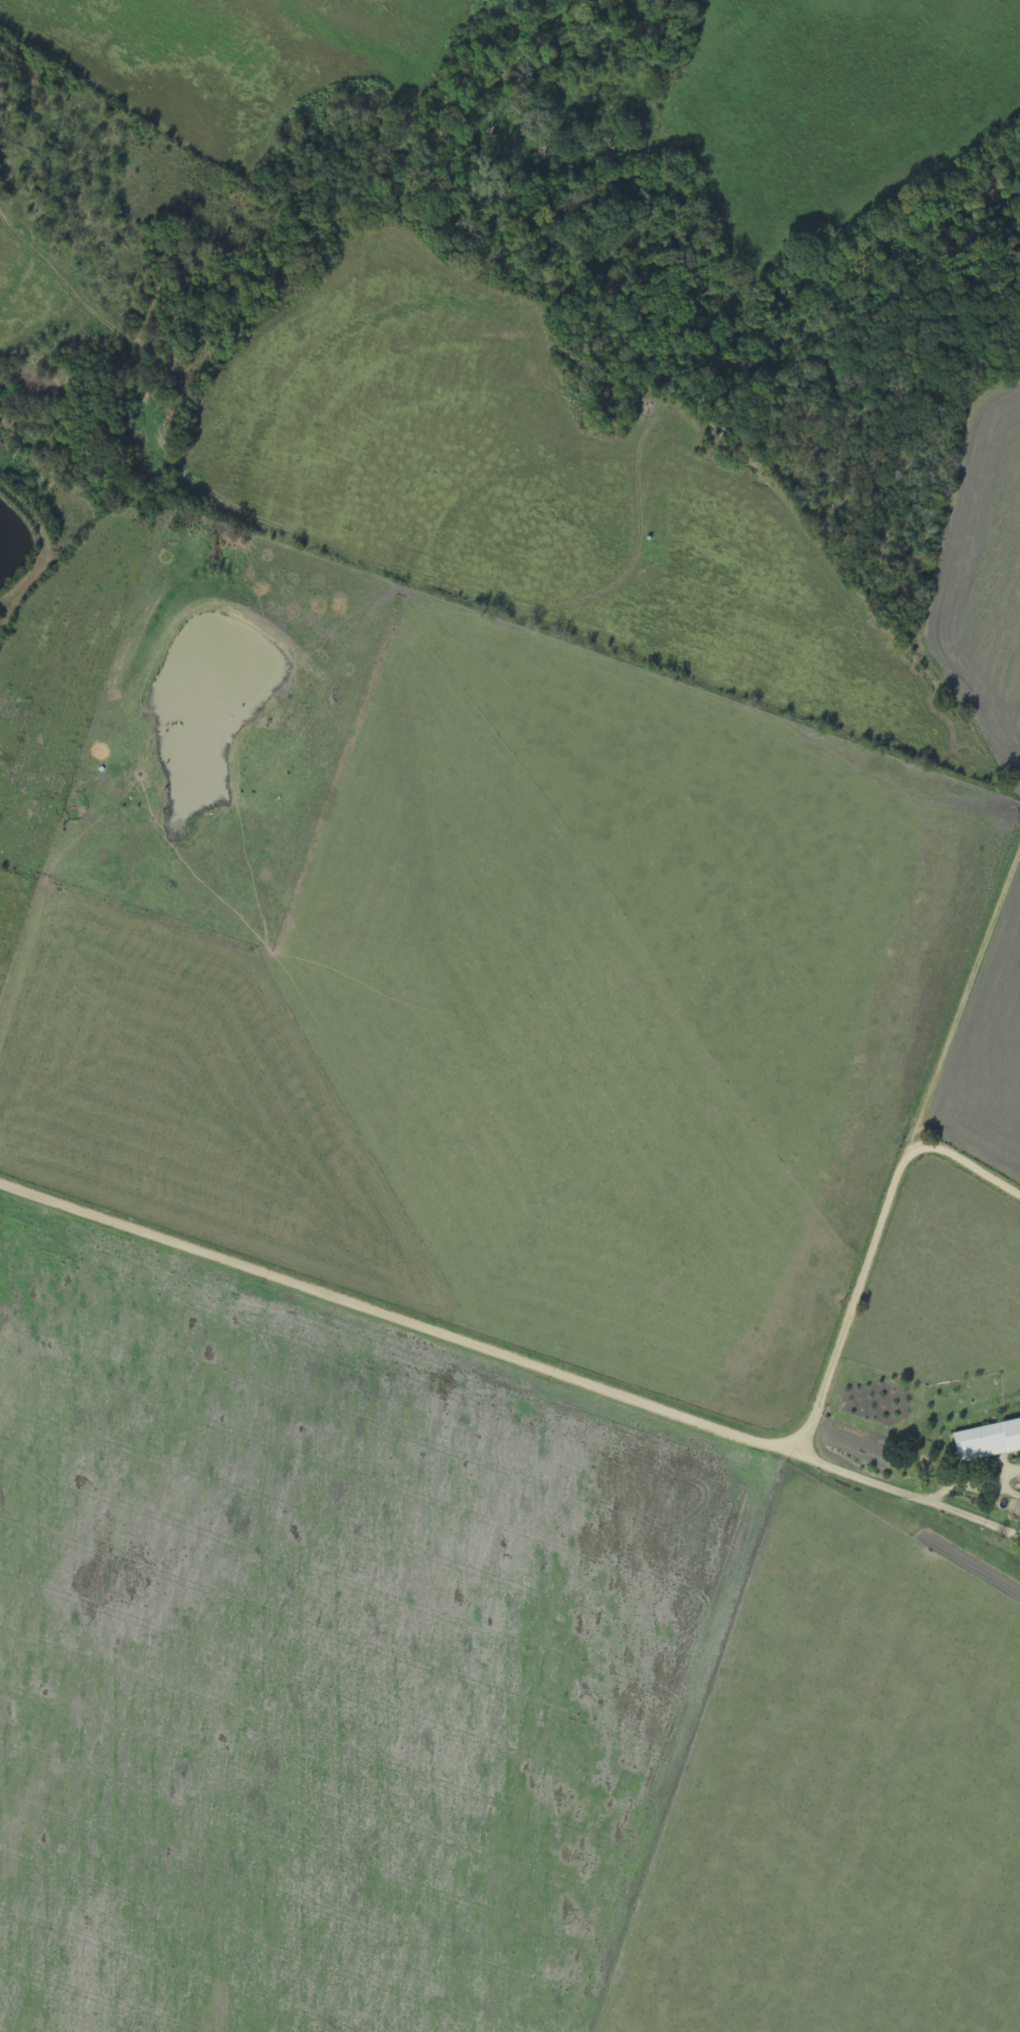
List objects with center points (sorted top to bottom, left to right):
road: (612, 1387)

